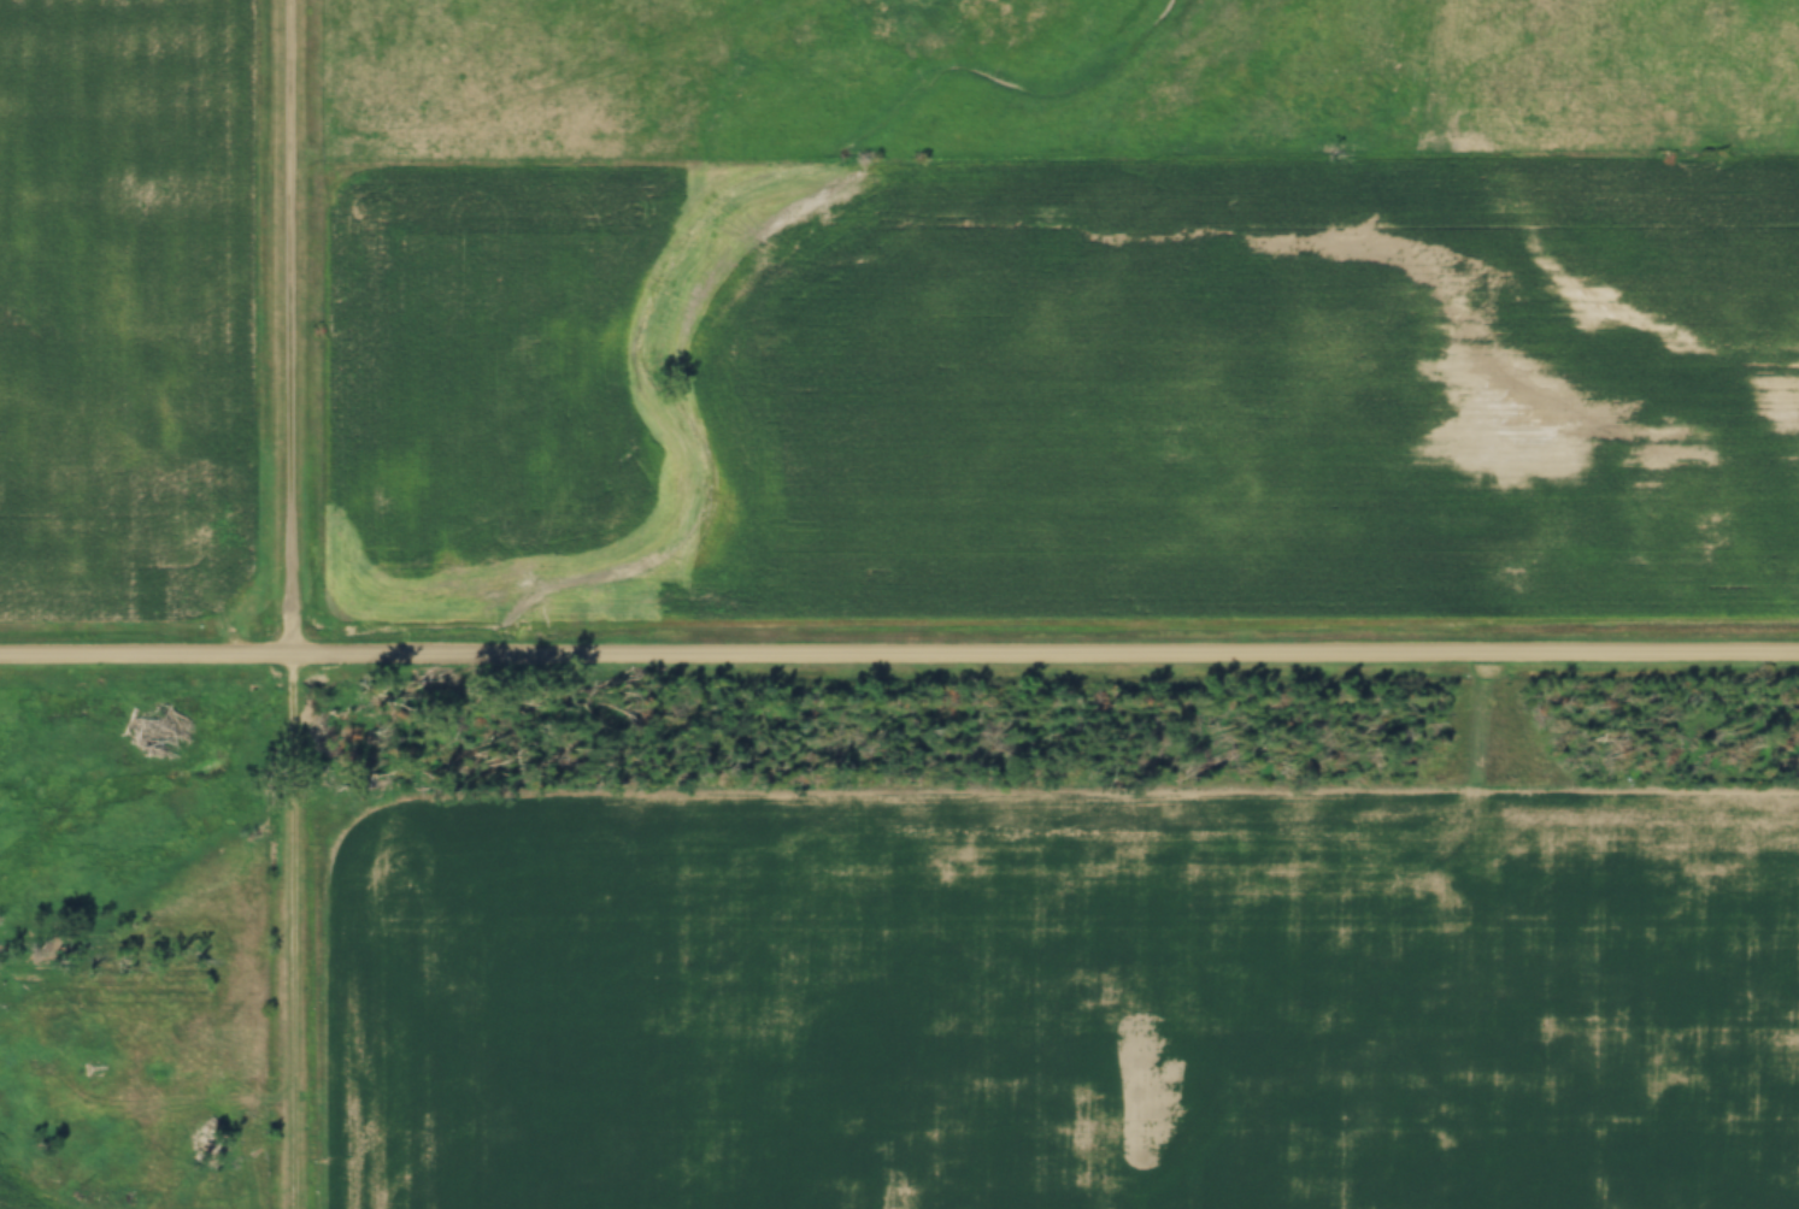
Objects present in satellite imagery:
road: (294, 604)
road: (899, 642)

